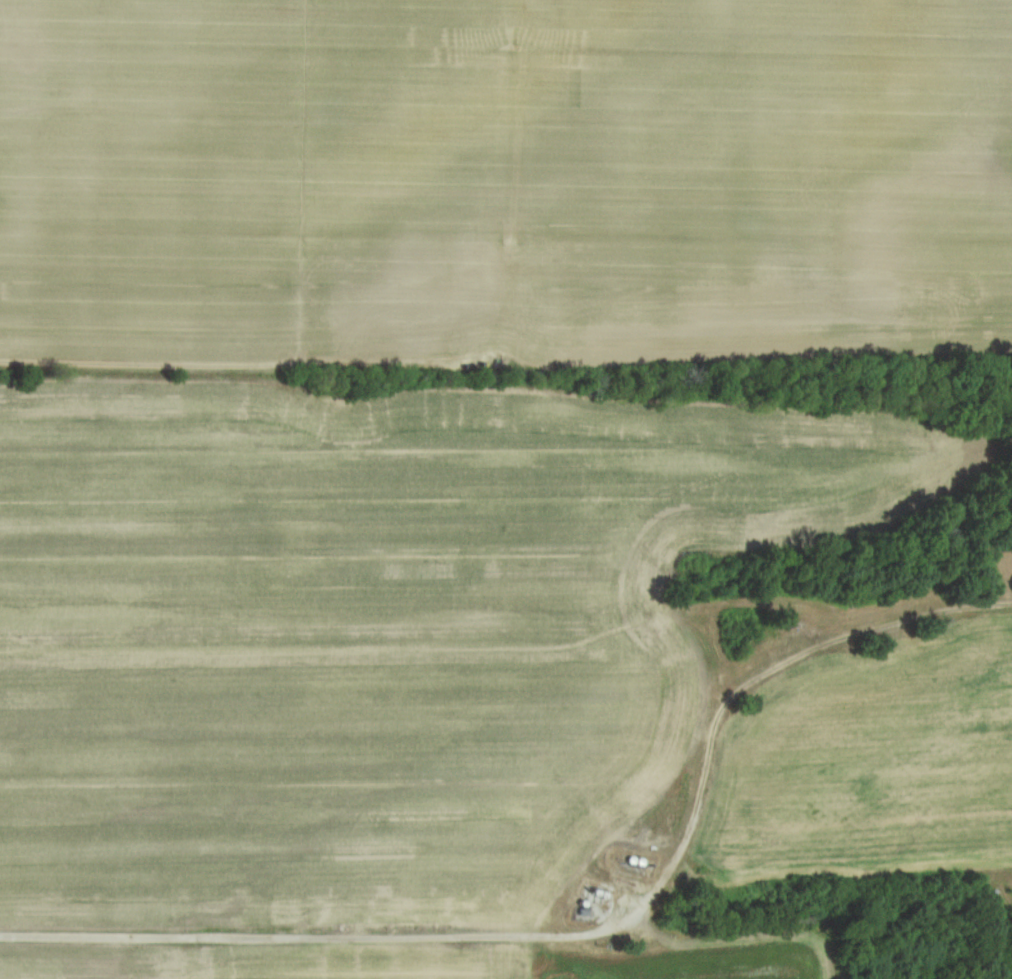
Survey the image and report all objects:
petroleum well: (797, 621)
building: (583, 912)
road: (591, 934)

